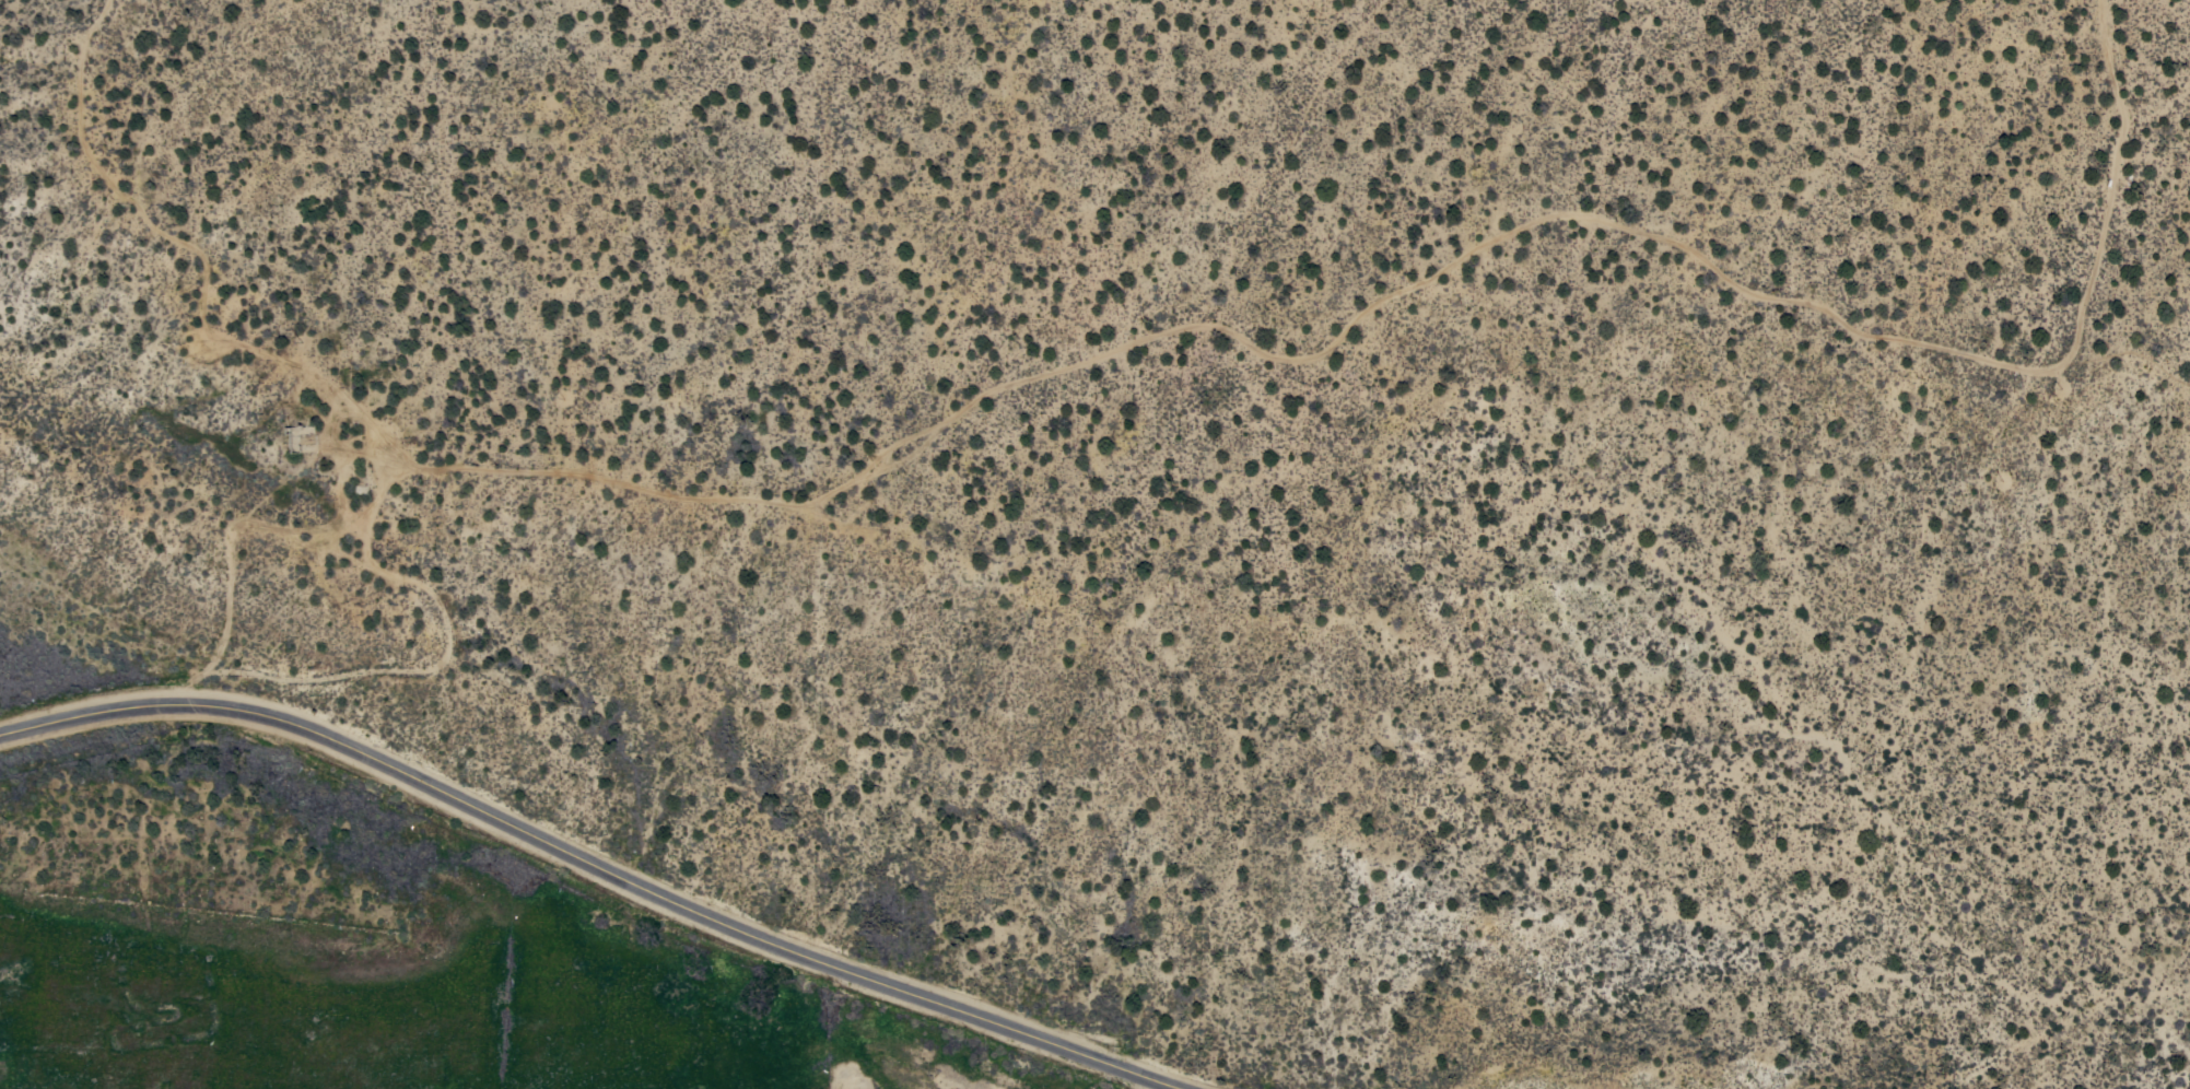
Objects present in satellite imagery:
road: (238, 528)
road: (589, 863)

